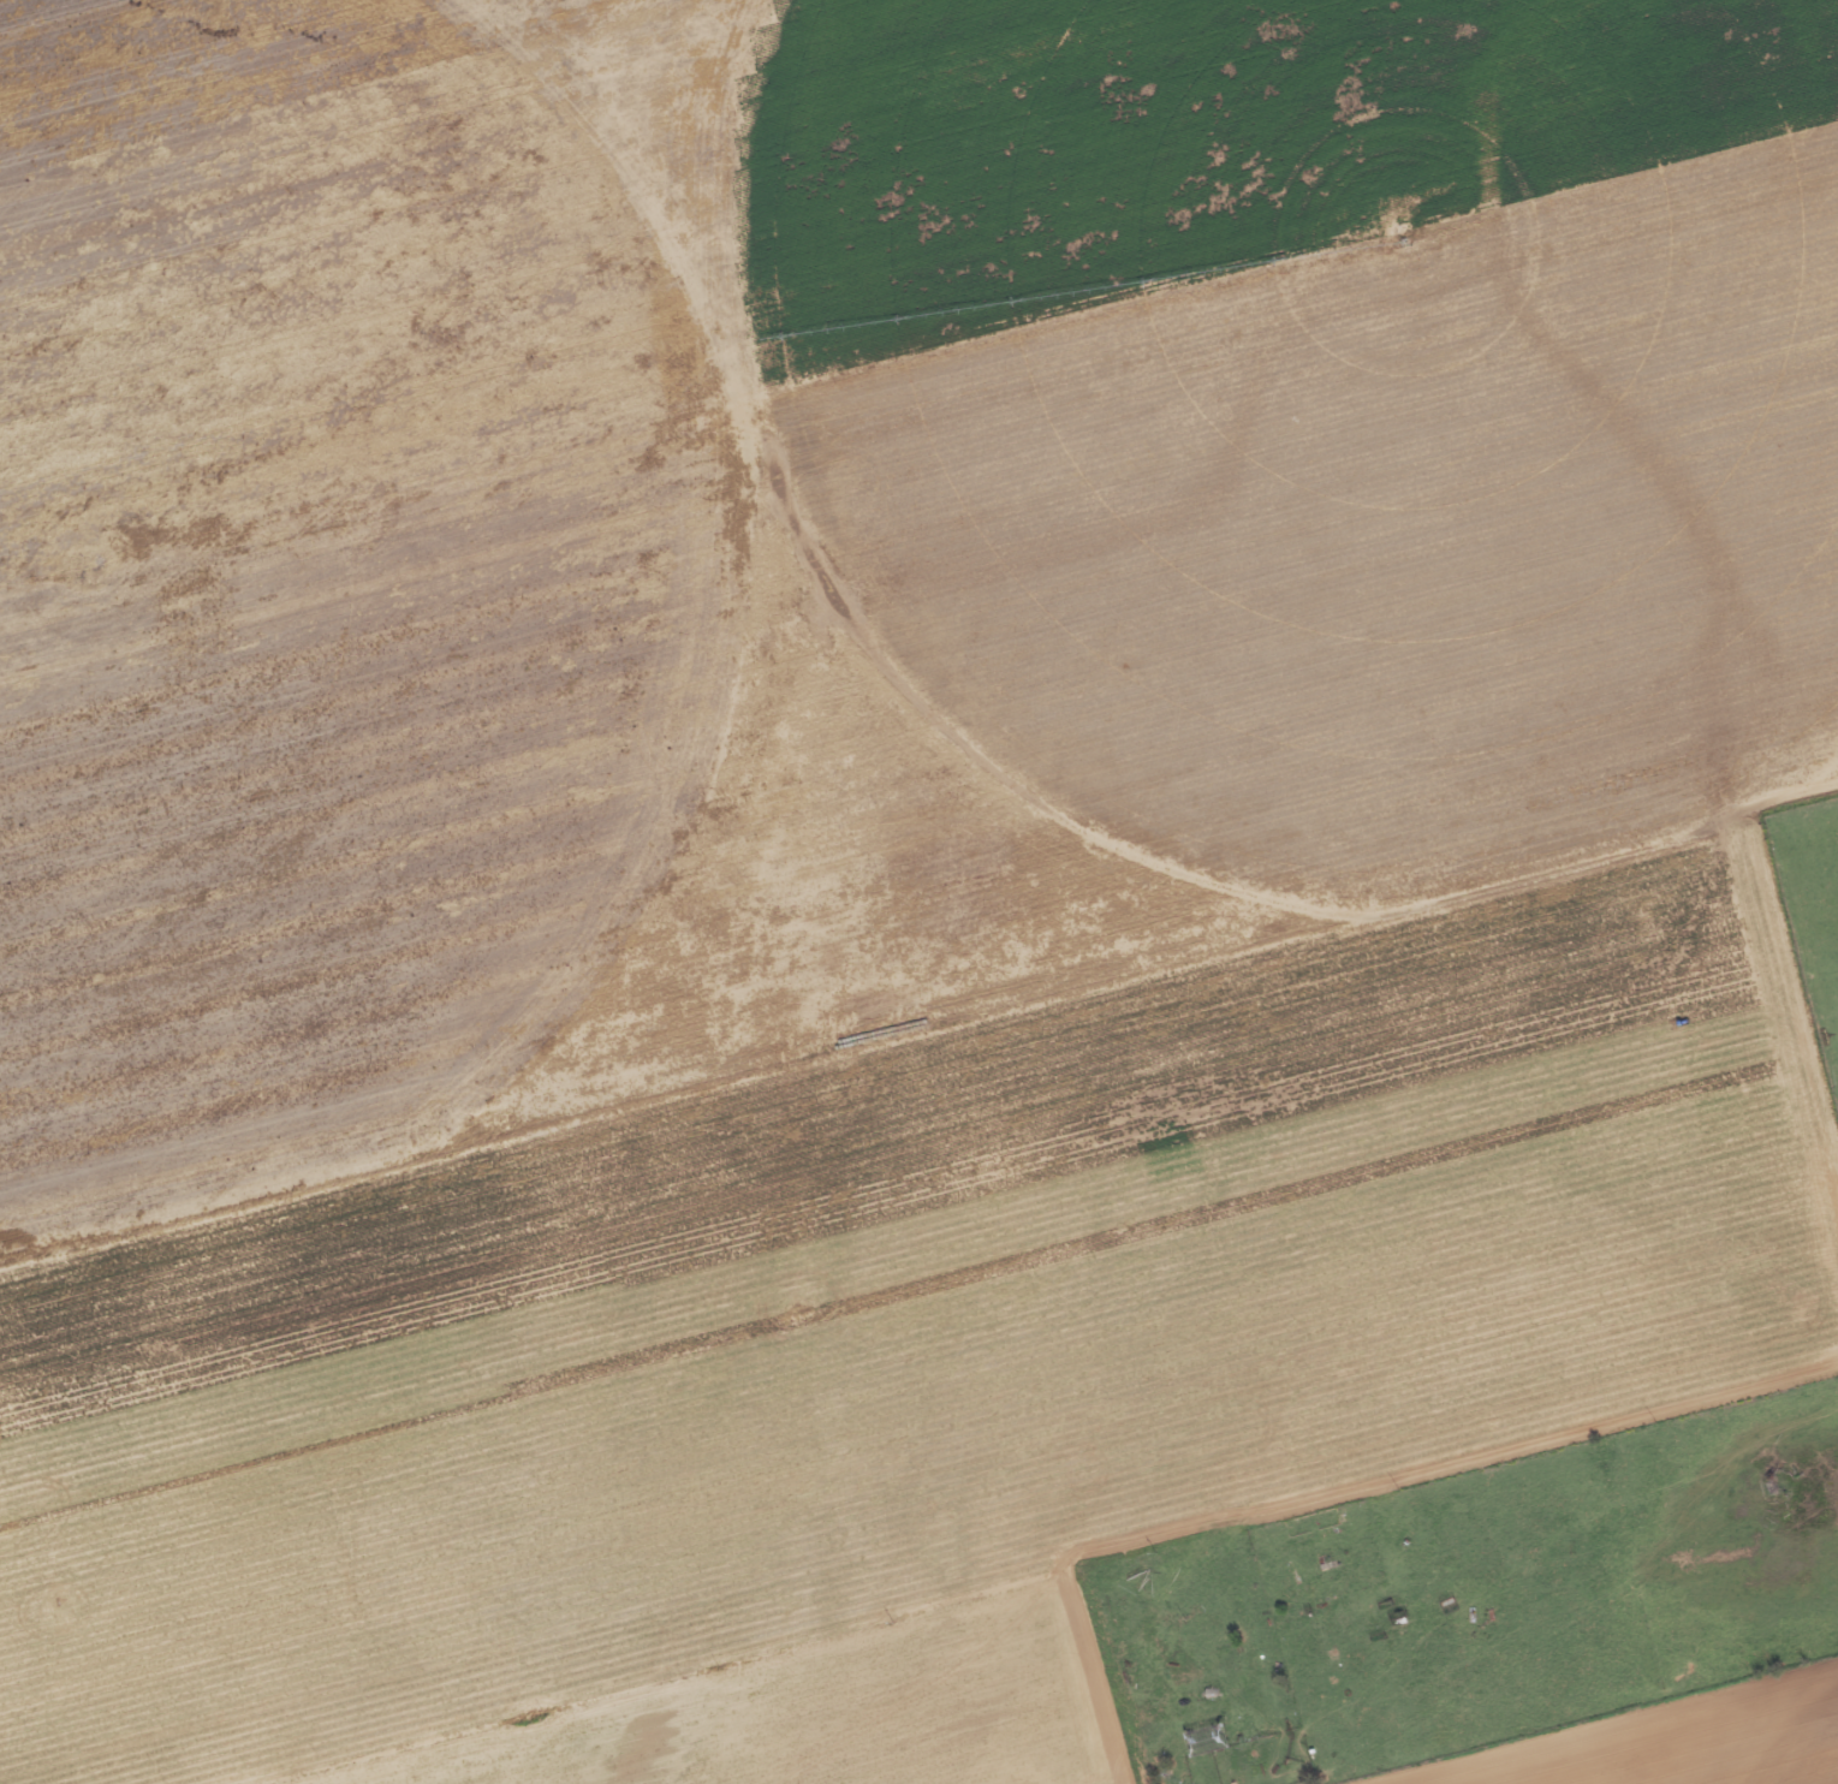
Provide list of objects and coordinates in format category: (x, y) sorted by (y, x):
road: (1451, 1443)

